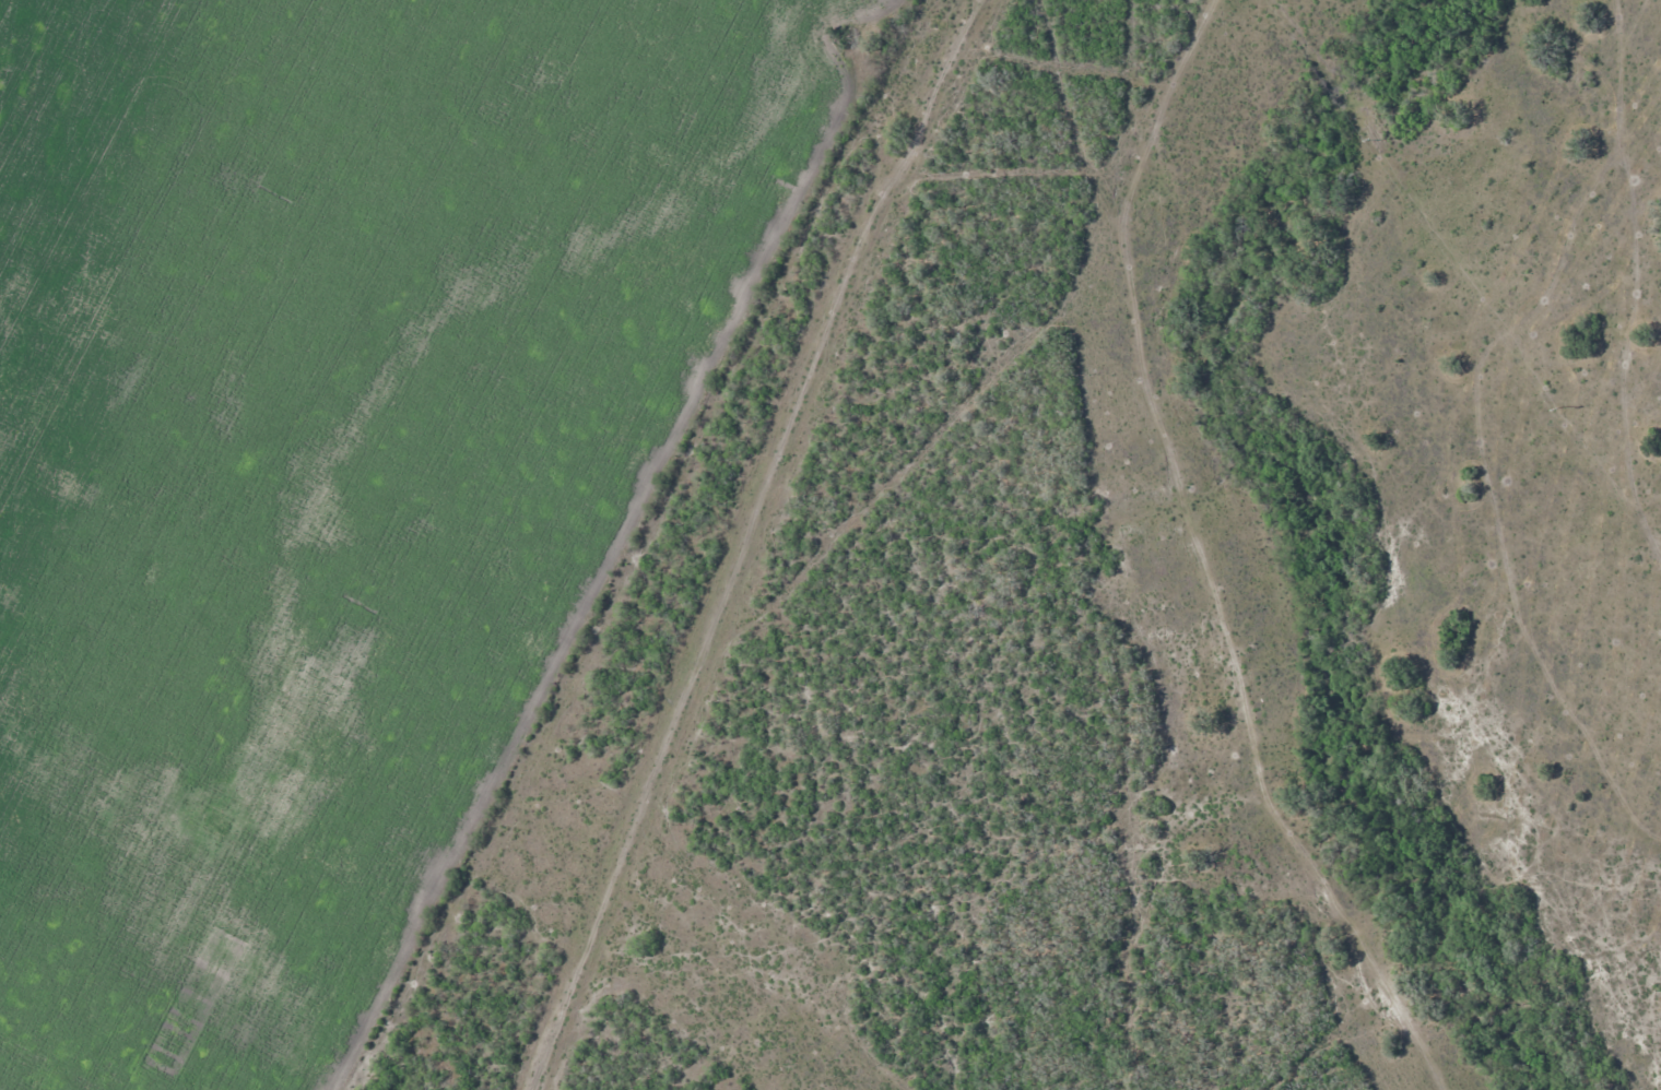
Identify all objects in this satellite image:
road: (766, 545)

